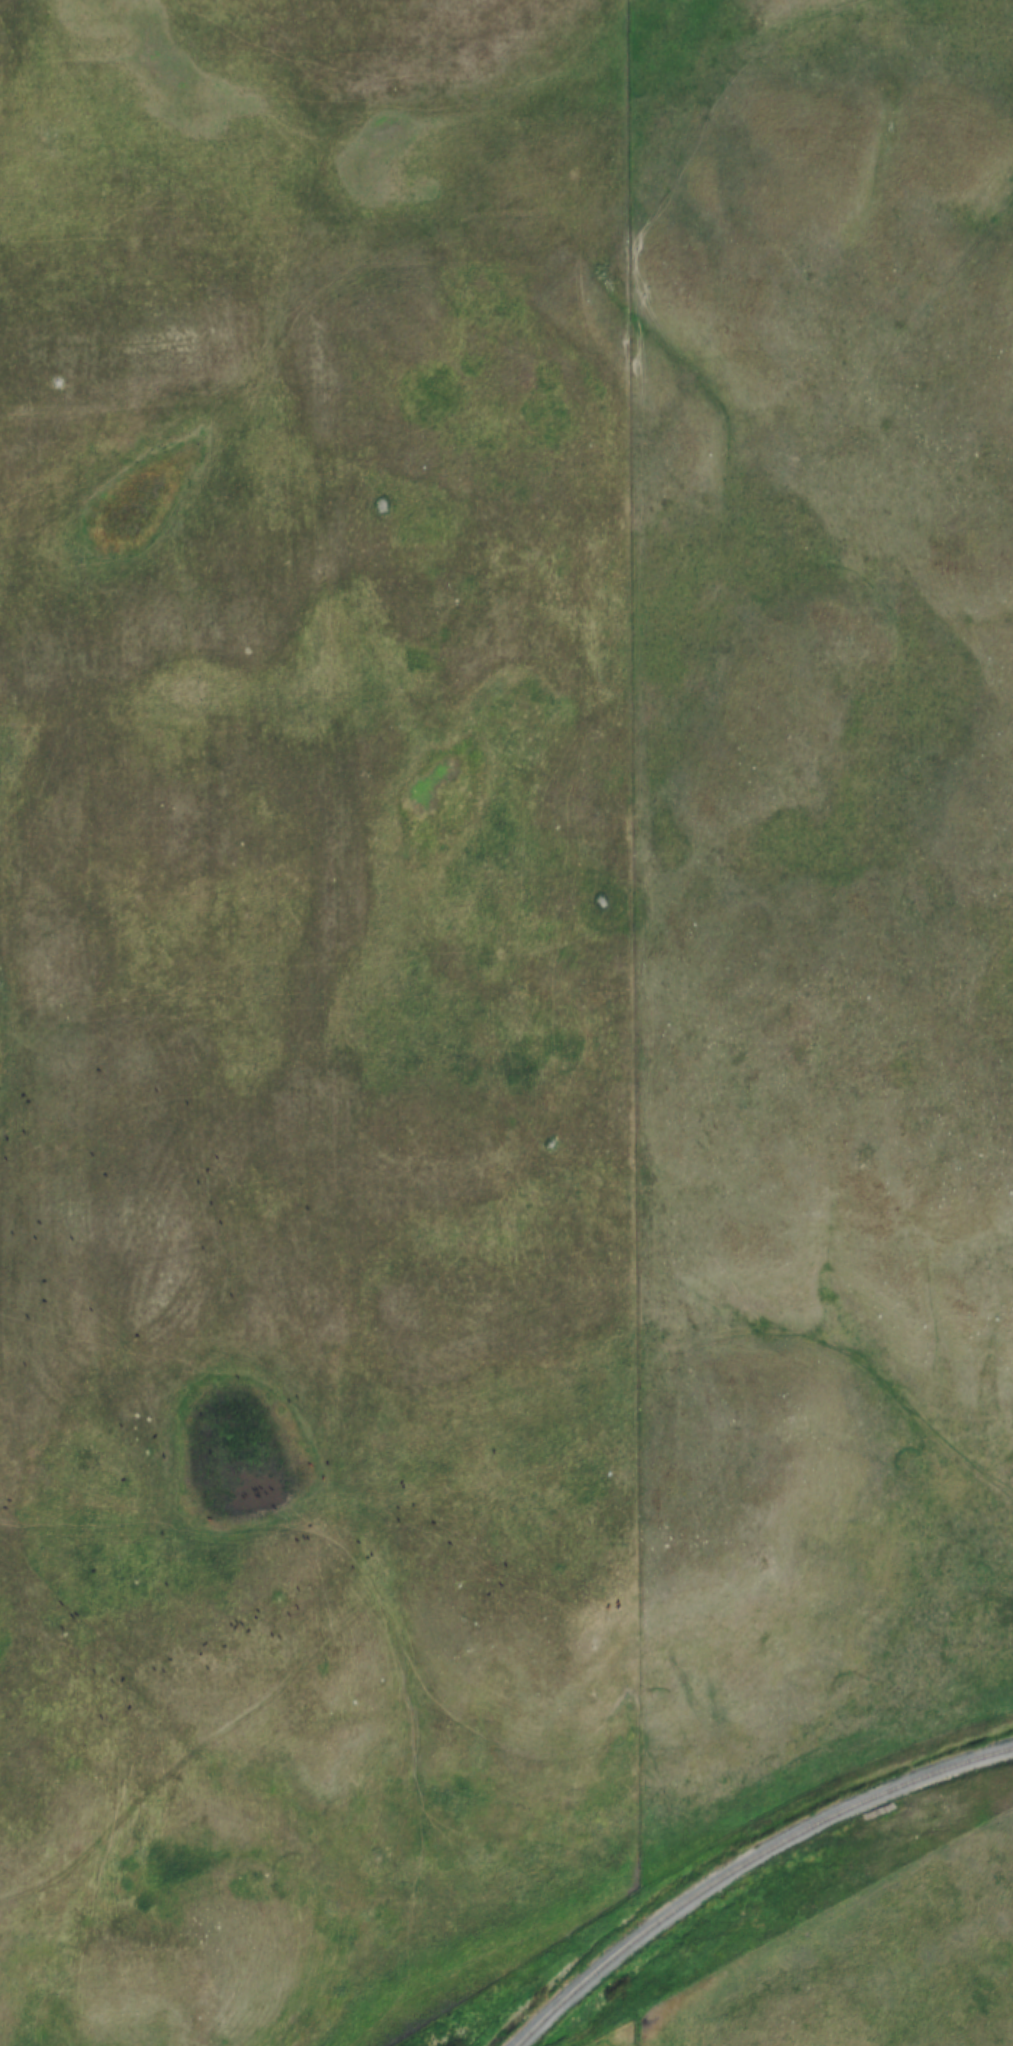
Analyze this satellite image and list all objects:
railway: (744, 1864)

